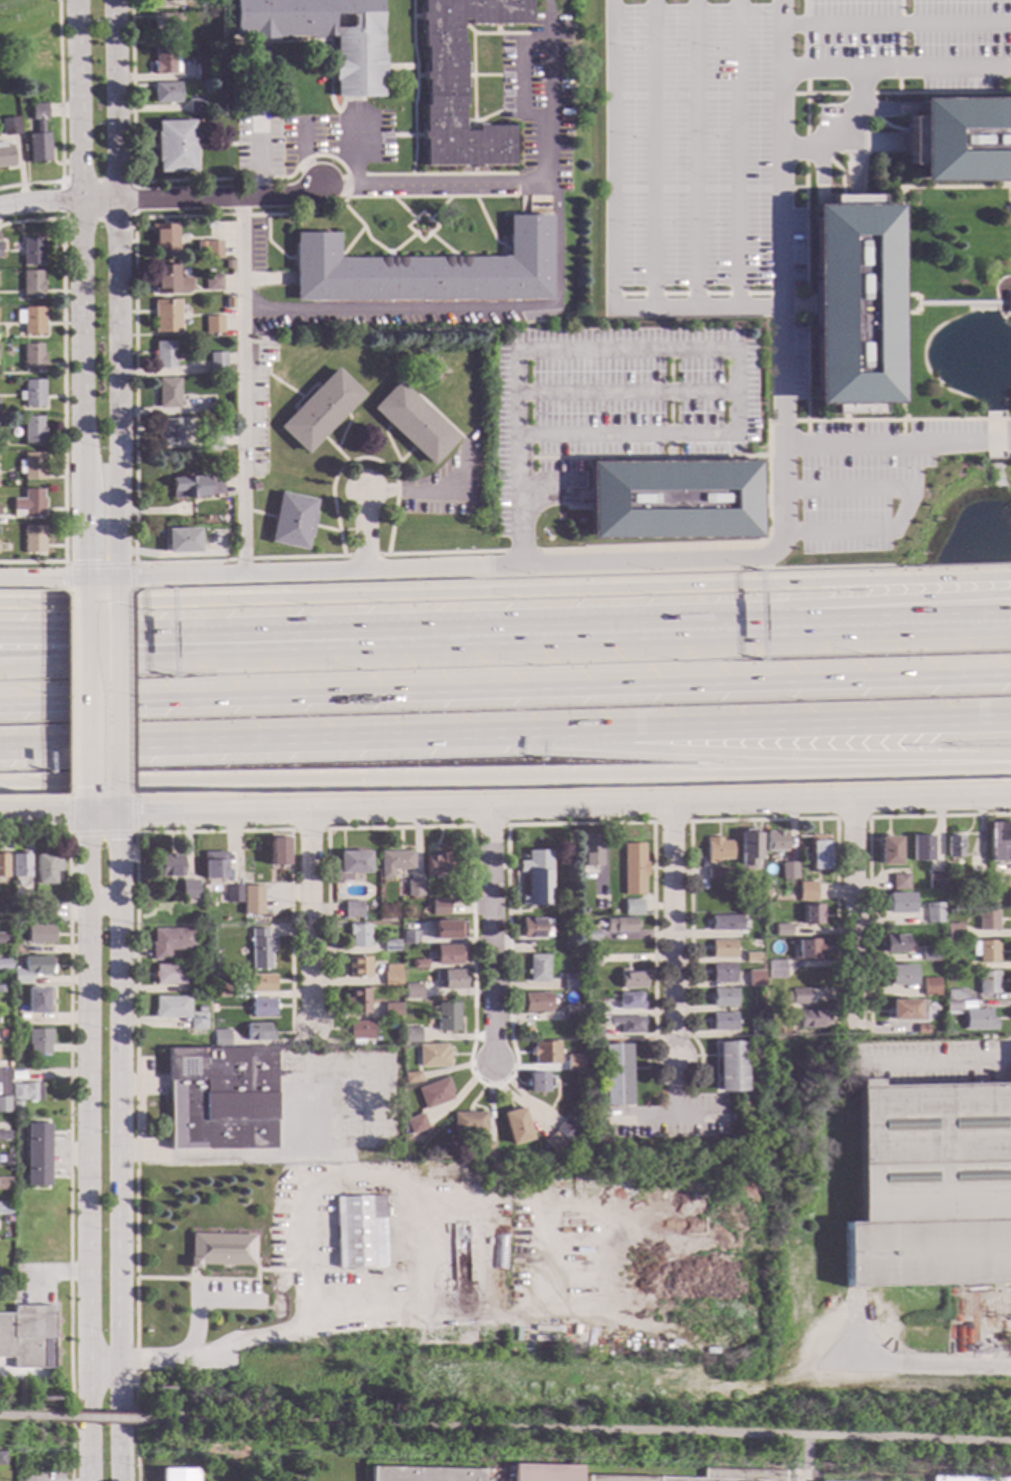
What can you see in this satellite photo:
building: (166, 1)
road: (895, 24)
building: (168, 27)
building: (205, 27)
road: (780, 34)
building: (322, 35)
road: (899, 47)
building: (166, 61)
building: (203, 68)
road: (517, 79)
building: (458, 83)
road: (543, 92)
building: (166, 93)
road: (756, 95)
building: (197, 107)
road: (60, 121)
building: (9, 127)
road: (843, 131)
building: (37, 135)
building: (961, 139)
parking lot: (741, 142)
road: (873, 142)
road: (806, 145)
building: (174, 146)
road: (357, 150)
road: (737, 152)
road: (654, 153)
road: (694, 153)
building: (5, 156)
road: (303, 159)
road: (258, 161)
road: (855, 167)
road: (840, 170)
road: (822, 175)
road: (433, 184)
road: (708, 189)
road: (1007, 198)
road: (162, 199)
road: (782, 203)
road: (132, 217)
road: (611, 239)
building: (163, 240)
building: (0, 245)
building: (198, 245)
building: (212, 250)
building: (32, 252)
road: (899, 260)
building: (228, 265)
building: (424, 270)
building: (169, 280)
building: (211, 283)
building: (32, 286)
road: (78, 293)
road: (117, 293)
building: (228, 303)
road: (962, 303)
building: (1008, 303)
building: (854, 304)
road: (918, 304)
road: (461, 308)
building: (165, 315)
building: (30, 320)
building: (212, 324)
road: (672, 348)
building: (163, 355)
building: (31, 357)
road: (61, 359)
building: (433, 362)
building: (216, 363)
building: (217, 381)
road: (244, 387)
building: (219, 391)
road: (628, 392)
building: (167, 393)
building: (31, 394)
building: (207, 403)
parking lot: (609, 410)
building: (319, 411)
road: (900, 420)
building: (414, 423)
building: (32, 430)
building: (171, 432)
building: (212, 441)
road: (897, 445)
road: (644, 457)
building: (31, 467)
parking lot: (874, 475)
road: (552, 483)
building: (254, 486)
road: (847, 486)
building: (194, 487)
road: (416, 490)
building: (671, 500)
building: (27, 505)
building: (291, 521)
road: (366, 529)
road: (862, 532)
road: (133, 533)
building: (33, 539)
building: (181, 540)
road: (365, 556)
road: (31, 562)
road: (64, 565)
road: (132, 565)
road: (97, 567)
road: (381, 570)
road: (510, 576)
road: (505, 593)
road: (895, 610)
road: (895, 621)
road: (185, 630)
road: (575, 631)
road: (185, 651)
road: (81, 689)
road: (118, 689)
road: (505, 689)
road: (130, 691)
road: (70, 692)
road: (760, 726)
road: (254, 740)
road: (759, 752)
road: (505, 777)
road: (206, 797)
road: (36, 799)
road: (117, 803)
road: (82, 804)
road: (546, 805)
road: (40, 815)
road: (851, 818)
road: (670, 822)
road: (592, 823)
road: (489, 826)
road: (307, 830)
road: (100, 834)
building: (775, 842)
building: (1000, 842)
building: (953, 845)
building: (747, 848)
building: (920, 849)
building: (717, 850)
building: (277, 851)
building: (590, 851)
building: (888, 851)
building: (819, 852)
road: (868, 852)
building: (353, 862)
building: (394, 863)
building: (975, 863)
building: (437, 864)
building: (213, 865)
building: (2, 866)
building: (19, 866)
building: (169, 866)
building: (44, 868)
building: (633, 869)
building: (788, 870)
building: (715, 873)
building: (535, 878)
building: (934, 880)
building: (899, 882)
building: (410, 889)
building: (188, 890)
building: (807, 892)
building: (232, 894)
building: (220, 899)
building: (251, 900)
building: (600, 902)
building: (898, 903)
road: (100, 906)
building: (438, 907)
building: (632, 908)
building: (352, 909)
building: (558, 910)
building: (24, 911)
building: (6, 912)
building: (615, 912)
building: (933, 912)
building: (812, 914)
road: (854, 915)
building: (39, 916)
building: (756, 916)
road: (307, 918)
building: (988, 920)
building: (724, 923)
building: (621, 925)
building: (20, 927)
building: (532, 928)
building: (447, 930)
building: (766, 930)
building: (782, 930)
road: (672, 931)
building: (954, 931)
building: (38, 934)
road: (491, 934)
building: (590, 935)
building: (358, 936)
building: (409, 937)
building: (3, 939)
building: (169, 942)
building: (893, 944)
building: (388, 946)
building: (260, 949)
building: (722, 949)
building: (808, 949)
building: (985, 951)
building: (447, 954)
building: (928, 954)
building: (751, 958)
building: (591, 960)
building: (955, 963)
building: (3, 964)
building: (417, 964)
building: (358, 967)
building: (537, 968)
building: (30, 969)
building: (776, 969)
building: (215, 971)
building: (721, 973)
building: (168, 975)
building: (901, 975)
building: (391, 976)
road: (134, 979)
building: (754, 979)
building: (451, 980)
building: (631, 980)
building: (570, 982)
building: (988, 982)
building: (262, 983)
building: (930, 987)
building: (0, 988)
building: (220, 991)
building: (412, 991)
building: (953, 995)
building: (799, 996)
building: (722, 997)
building: (36, 1001)
building: (355, 1001)
building: (629, 1001)
building: (535, 1002)
building: (951, 1006)
building: (171, 1007)
building: (592, 1007)
building: (262, 1008)
building: (211, 1009)
building: (571, 1010)
building: (903, 1010)
building: (391, 1011)
building: (446, 1016)
building: (813, 1019)
building: (979, 1020)
building: (196, 1021)
building: (723, 1022)
building: (627, 1024)
building: (921, 1028)
building: (359, 1031)
building: (258, 1032)
building: (2, 1033)
building: (411, 1035)
building: (221, 1038)
building: (38, 1041)
building: (544, 1052)
building: (432, 1056)
road: (939, 1061)
building: (573, 1063)
building: (6, 1066)
building: (730, 1066)
building: (616, 1074)
building: (18, 1075)
building: (411, 1078)
building: (538, 1082)
road: (672, 1090)
building: (26, 1092)
building: (434, 1093)
building: (221, 1099)
building: (4, 1104)
building: (17, 1106)
parking lot: (339, 1106)
building: (730, 1118)
building: (605, 1122)
road: (667, 1122)
building: (468, 1123)
road: (68, 1124)
building: (416, 1124)
building: (515, 1127)
building: (568, 1128)
building: (3, 1135)
building: (553, 1143)
road: (119, 1147)
road: (86, 1148)
building: (485, 1150)
building: (611, 1150)
building: (36, 1155)
road: (271, 1157)
building: (7, 1162)
building: (4, 1184)
road: (313, 1184)
building: (931, 1187)
building: (5, 1208)
building: (6, 1219)
building: (359, 1232)
building: (221, 1249)
building: (459, 1252)
building: (499, 1252)
building: (2, 1278)
road: (226, 1280)
road: (197, 1300)
road: (451, 1310)
building: (28, 1337)
road: (137, 1362)
road: (940, 1365)
road: (25, 1416)
road: (101, 1418)
road: (581, 1431)
road: (803, 1455)
building: (2, 1458)
building: (543, 1473)
building: (423, 1474)
building: (179, 1475)
building: (712, 1476)
road: (801, 1477)
building: (966, 1478)

